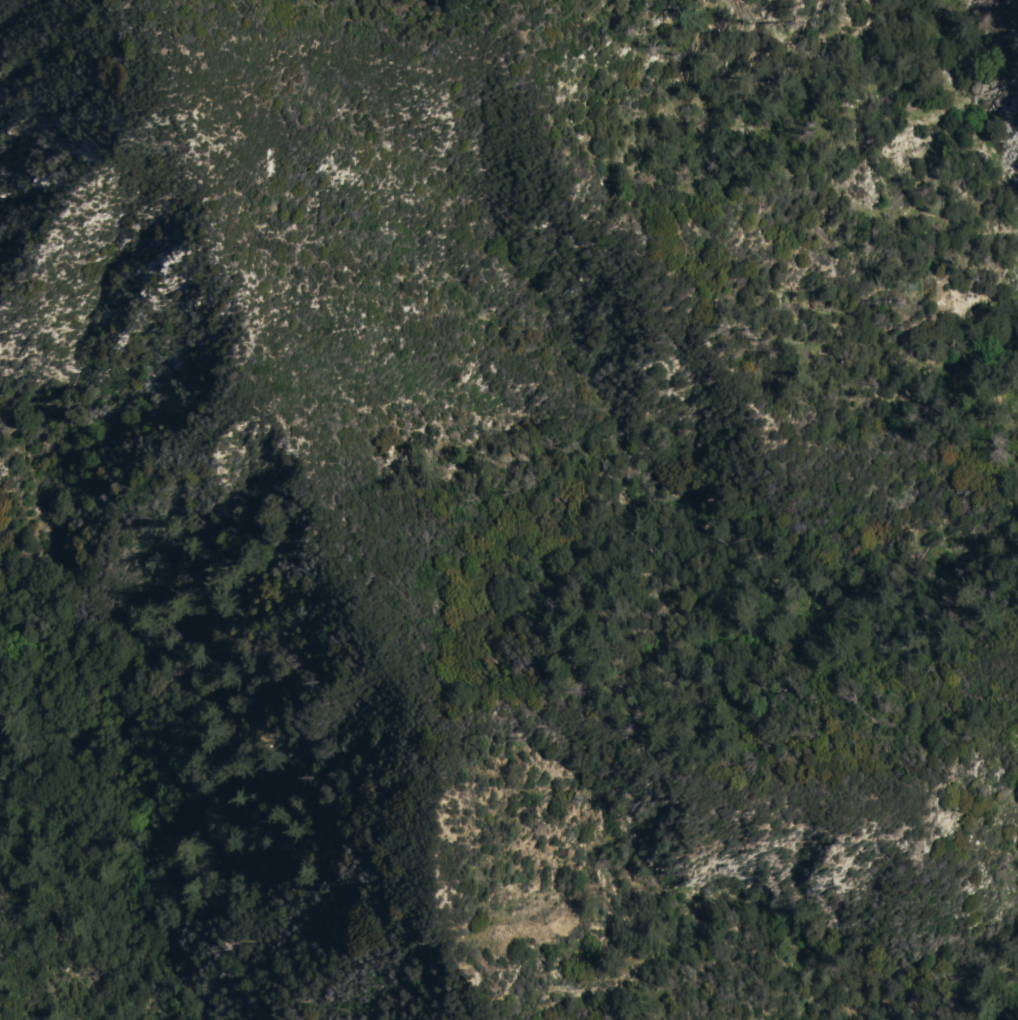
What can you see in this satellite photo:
road: (88, 753)

